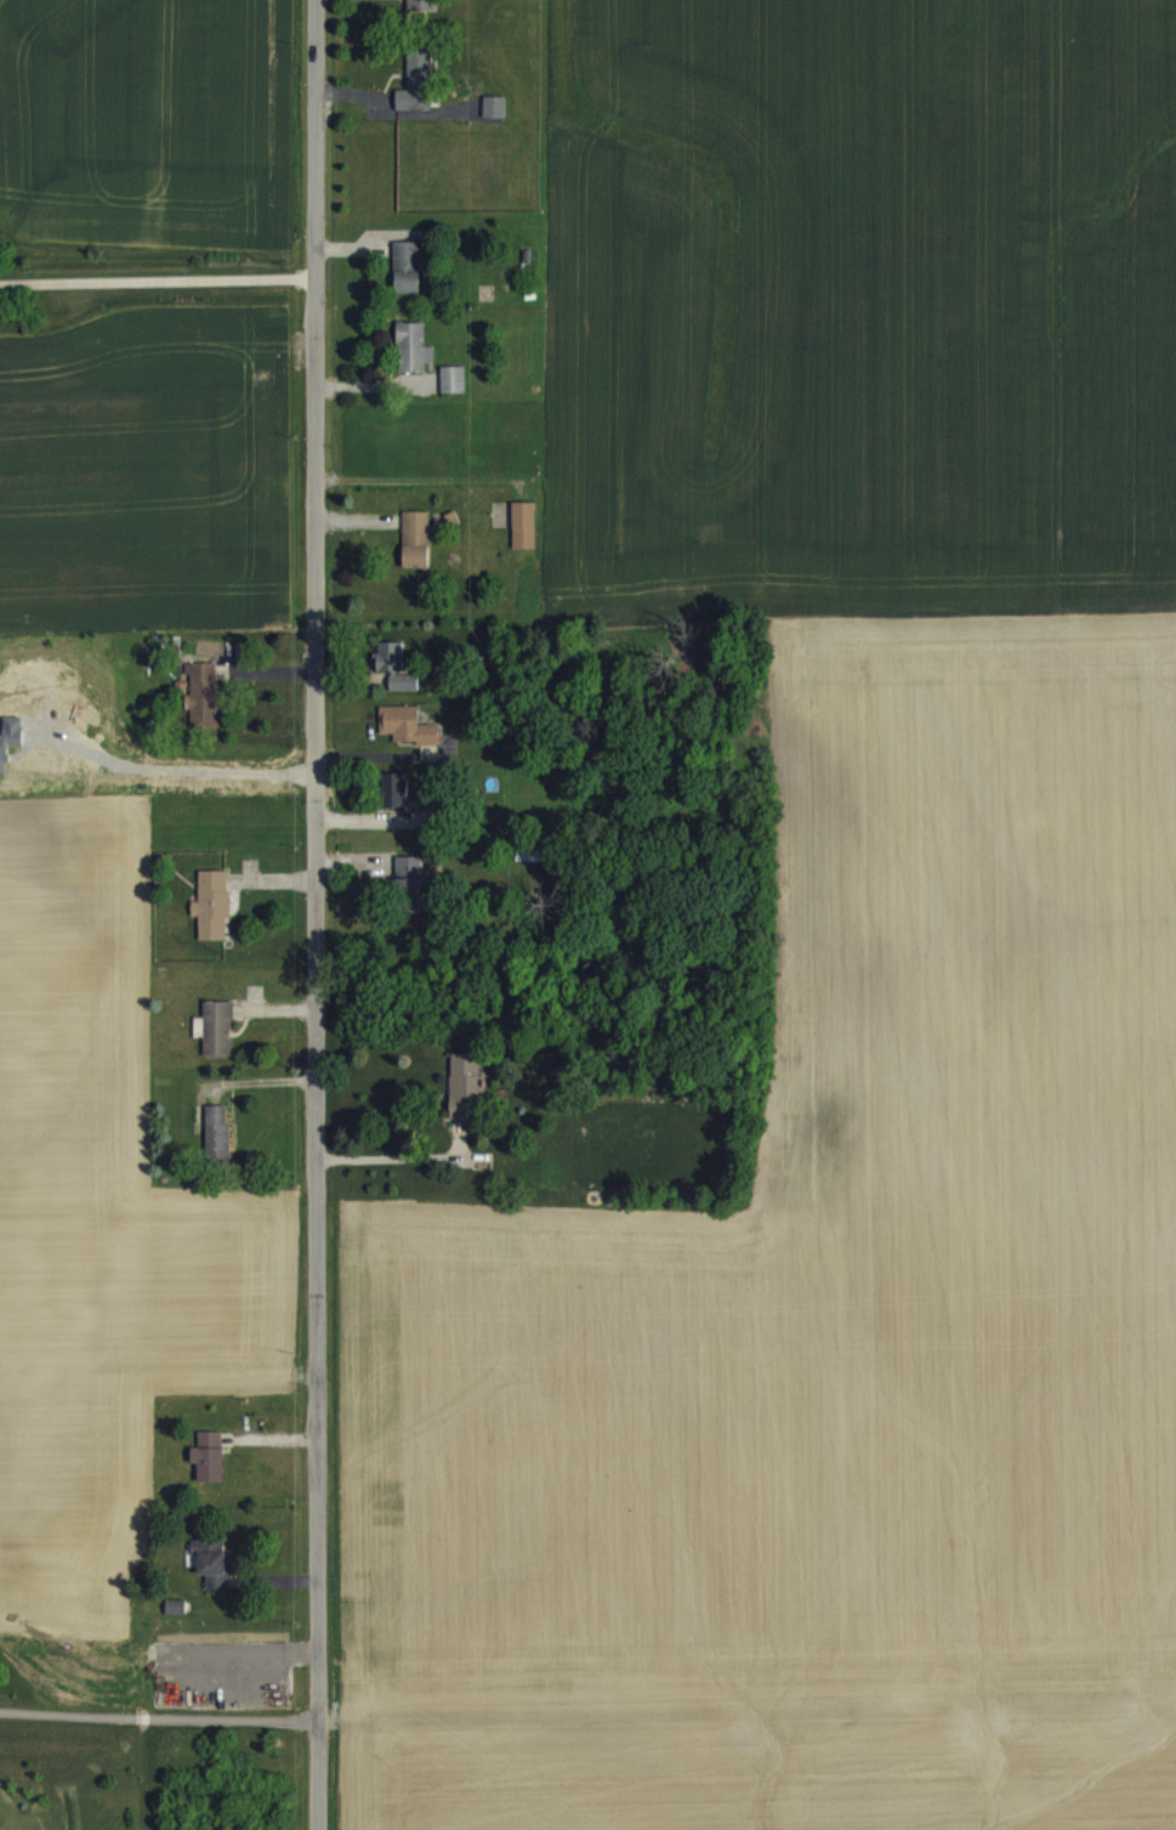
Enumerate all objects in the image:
building: (419, 11)
building: (416, 97)
building: (493, 120)
road: (158, 279)
building: (407, 281)
building: (414, 362)
building: (453, 393)
road: (413, 476)
building: (524, 539)
building: (416, 554)
building: (396, 681)
building: (203, 708)
building: (407, 740)
building: (404, 805)
building: (411, 899)
road: (319, 914)
building: (211, 919)
building: (215, 1042)
road: (257, 1078)
building: (465, 1100)
building: (217, 1146)
road: (392, 1155)
building: (209, 1471)
building: (212, 1579)
building: (175, 1621)
road: (160, 1716)

